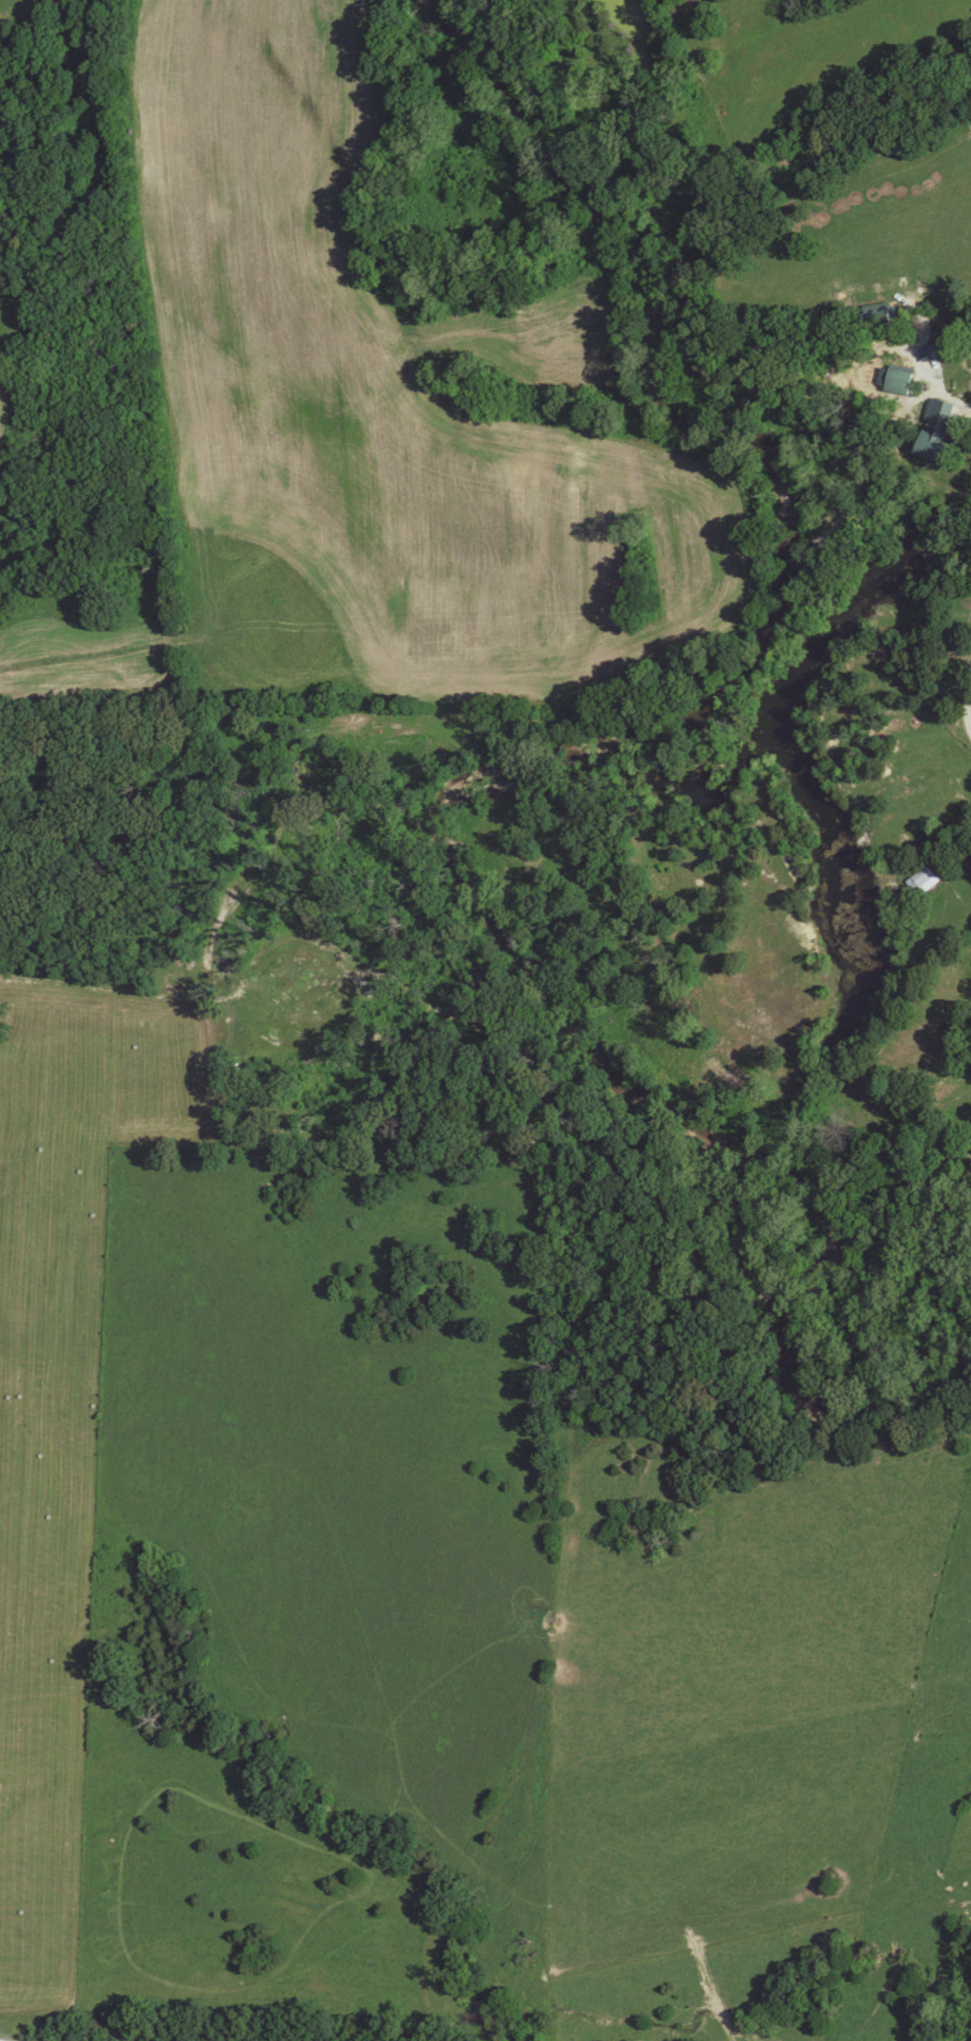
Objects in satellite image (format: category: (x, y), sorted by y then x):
building: (901, 383)
building: (937, 434)
road: (968, 711)
building: (922, 876)

